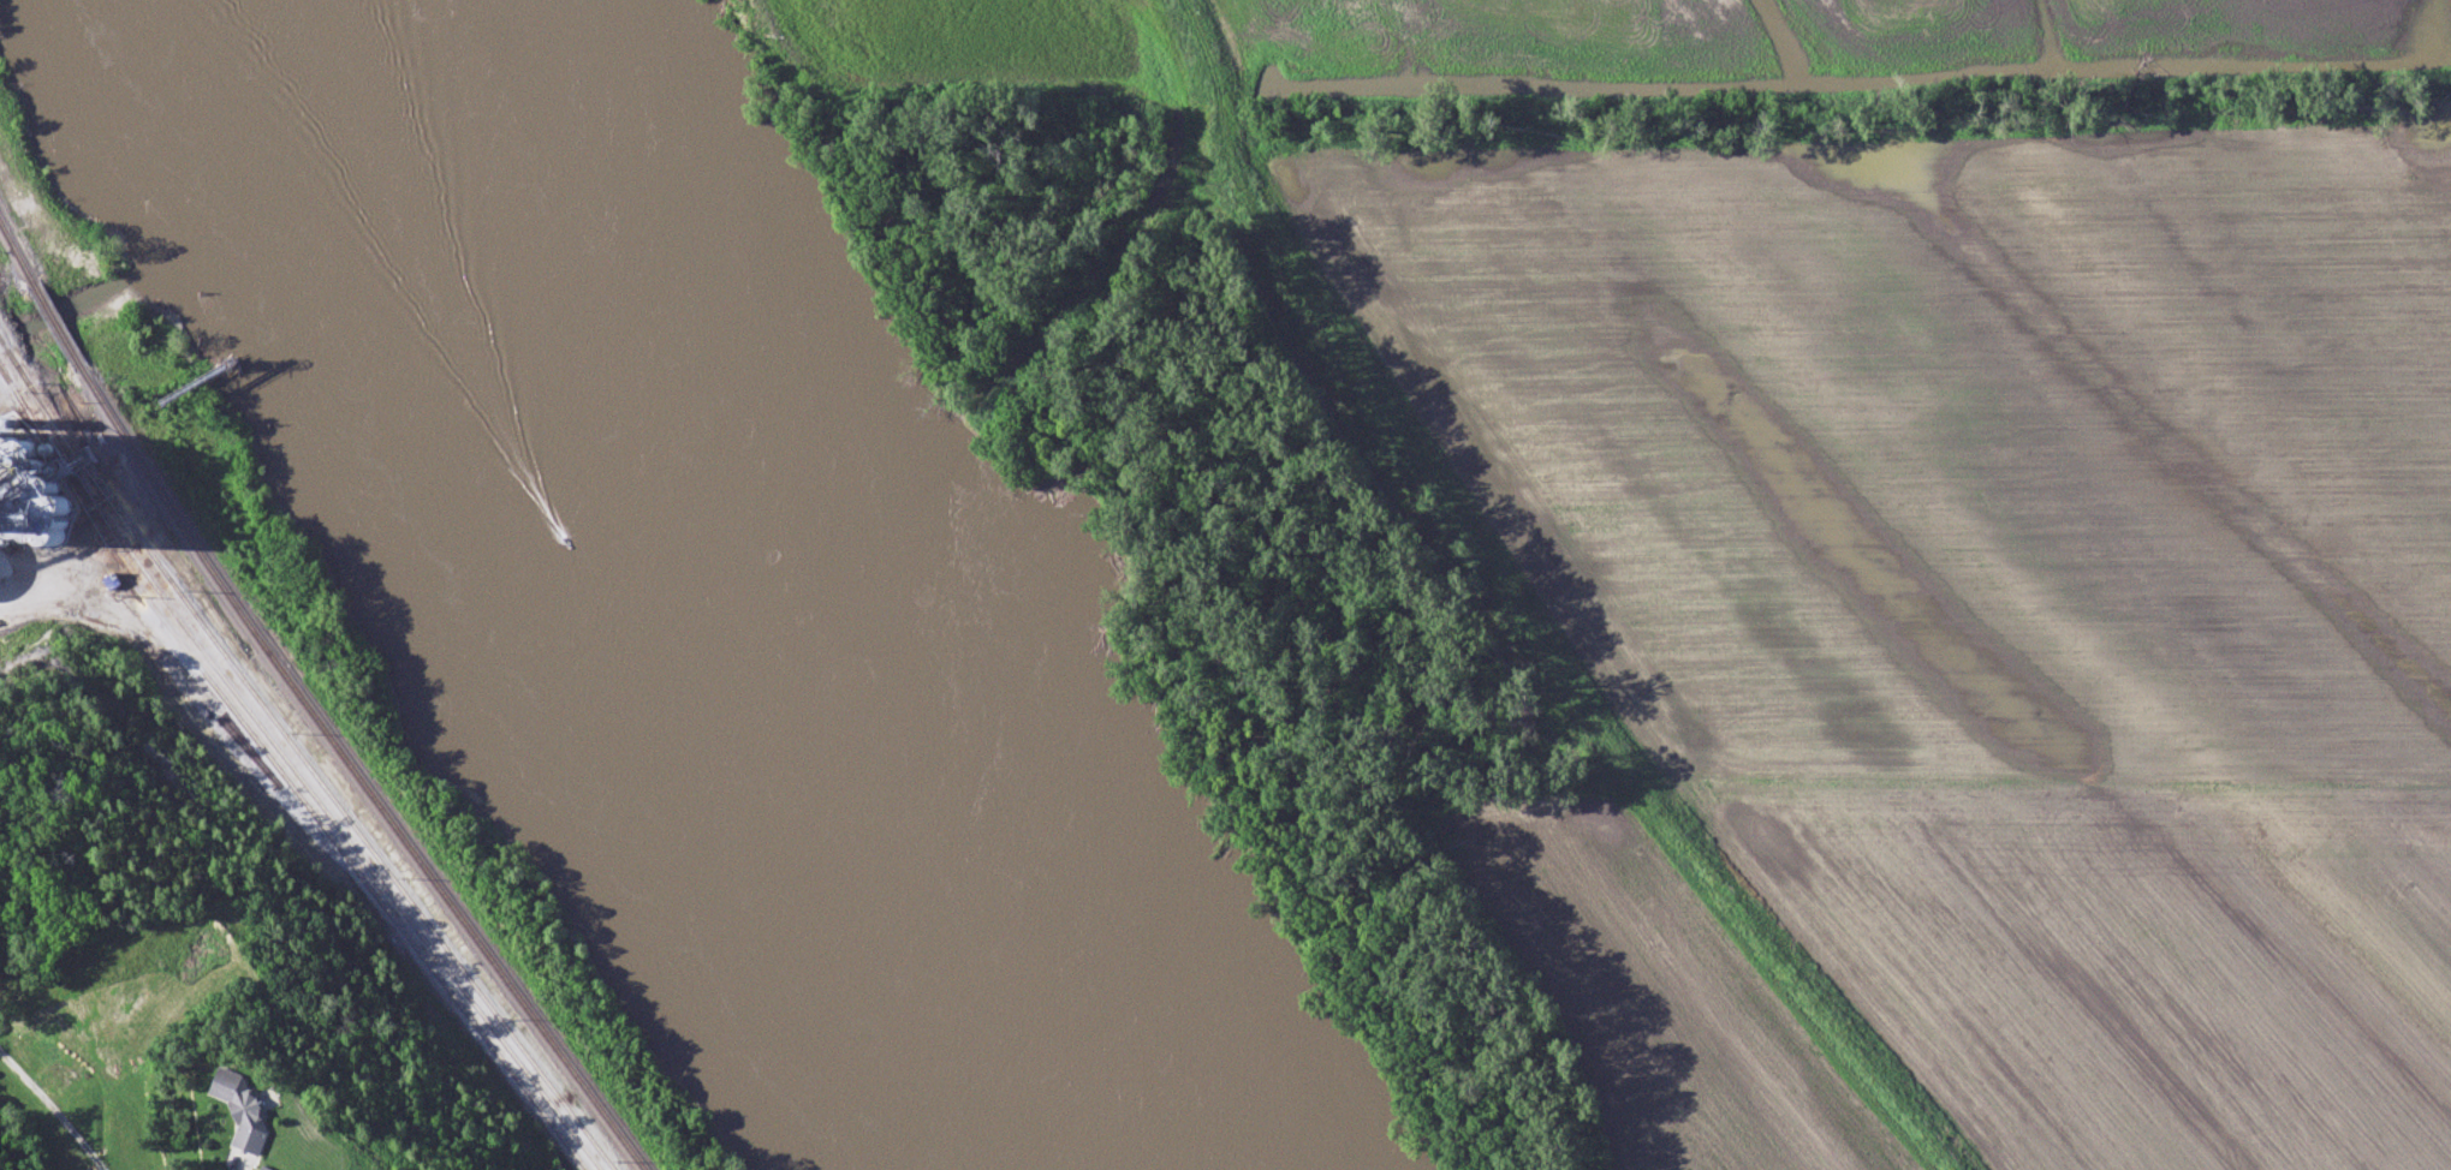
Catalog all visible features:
railway: (17, 257)
railway: (59, 333)
river: (685, 620)
railway: (285, 764)
railway: (307, 769)
railway: (357, 777)
railway: (346, 860)
road: (49, 1106)
building: (240, 1112)

